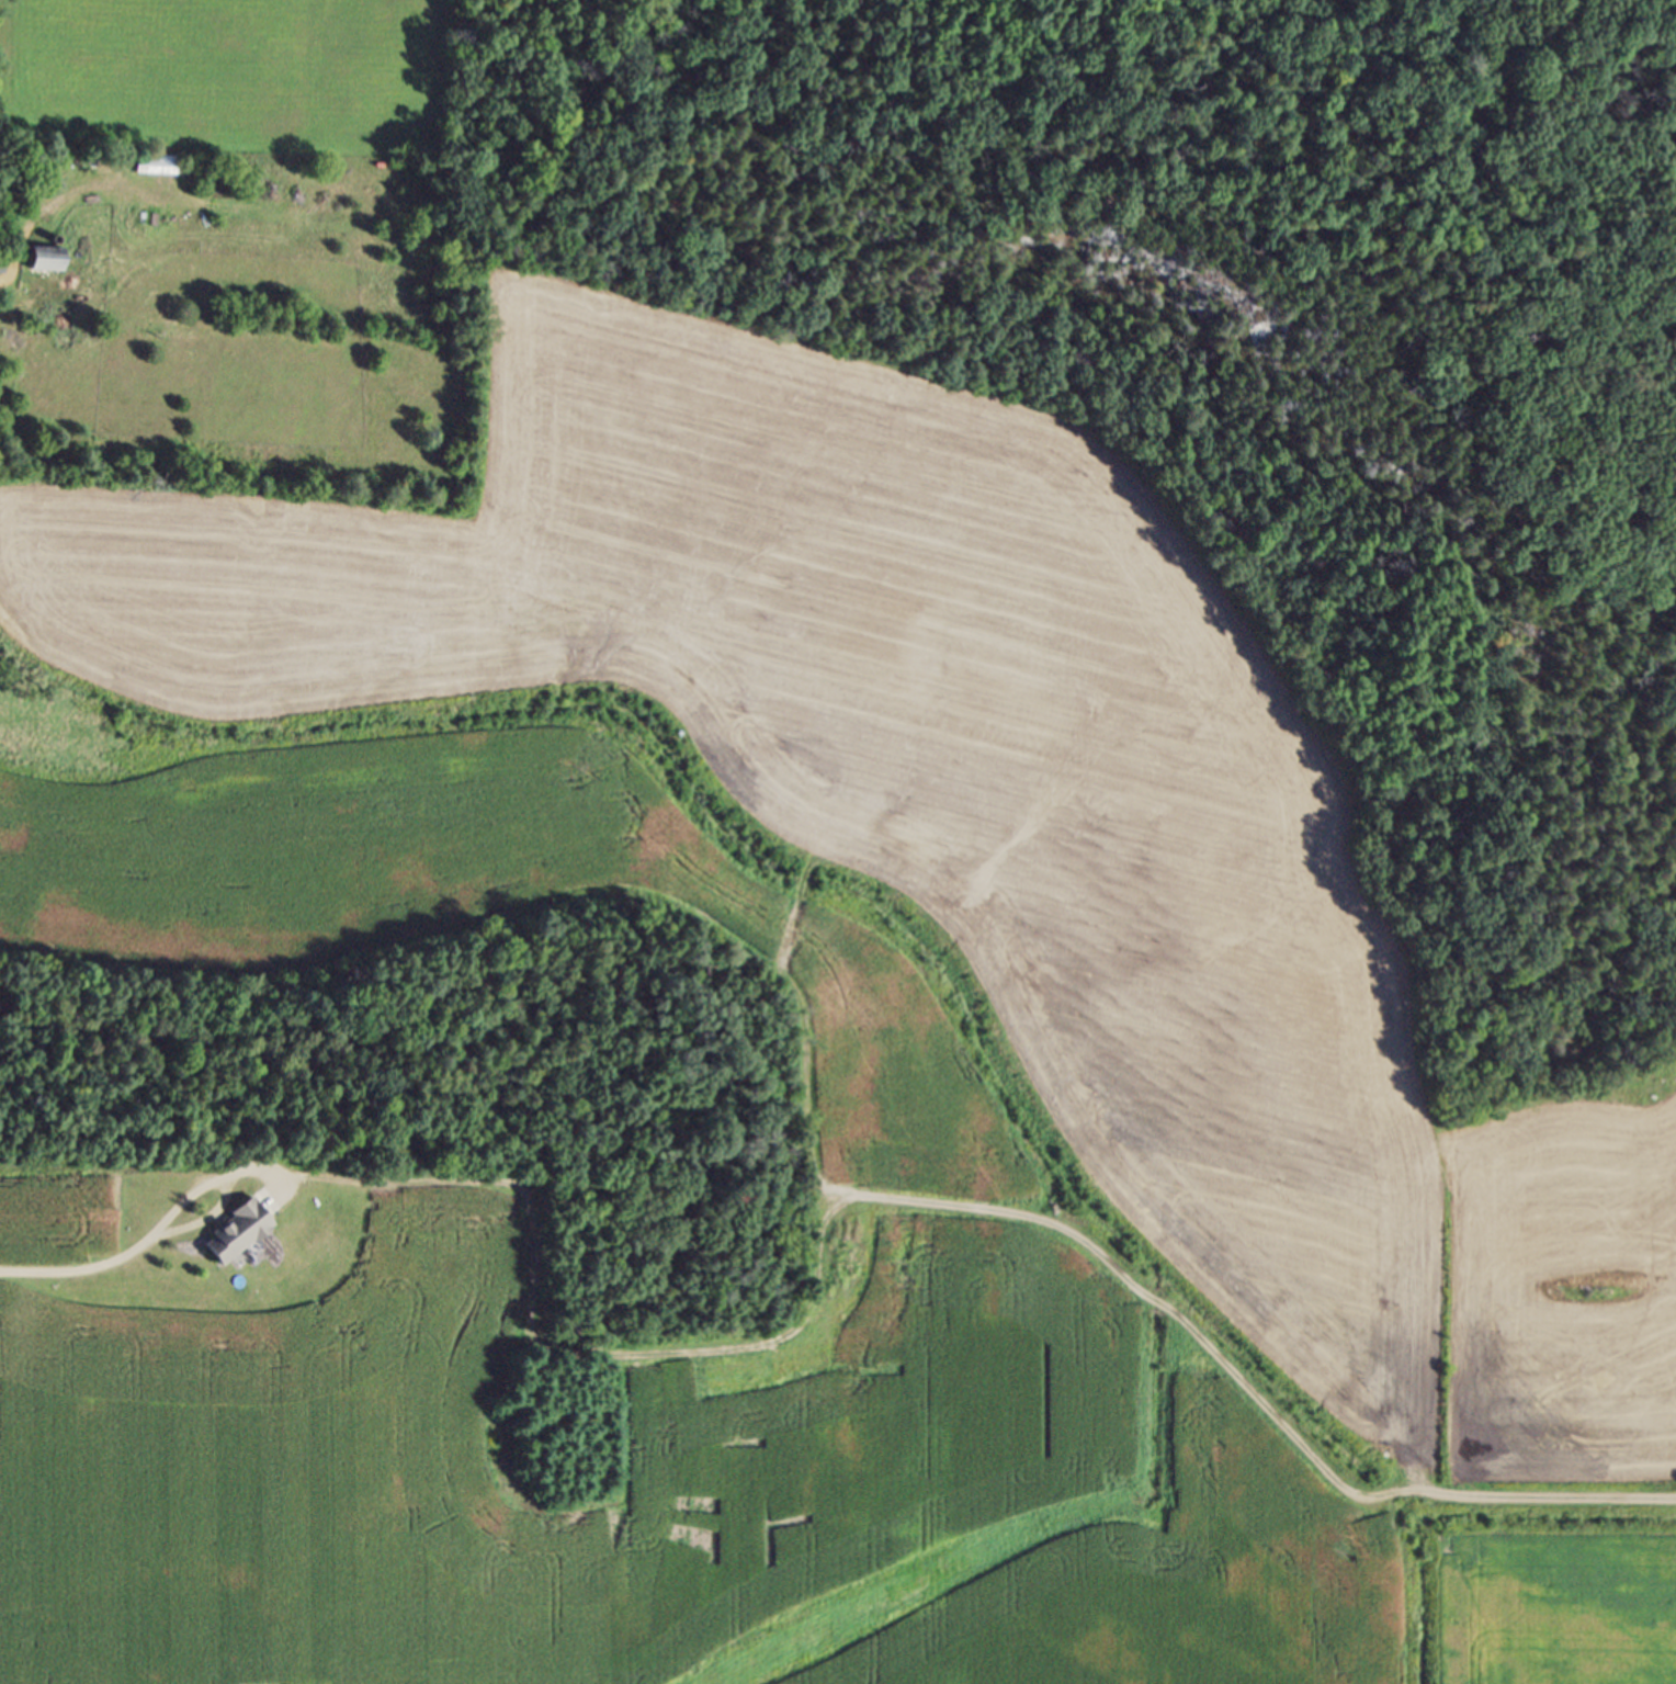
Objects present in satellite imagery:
building: (154, 169)
building: (38, 262)
building: (1, 268)
road: (10, 276)
road: (220, 1186)
building: (231, 1236)
road: (78, 1269)

